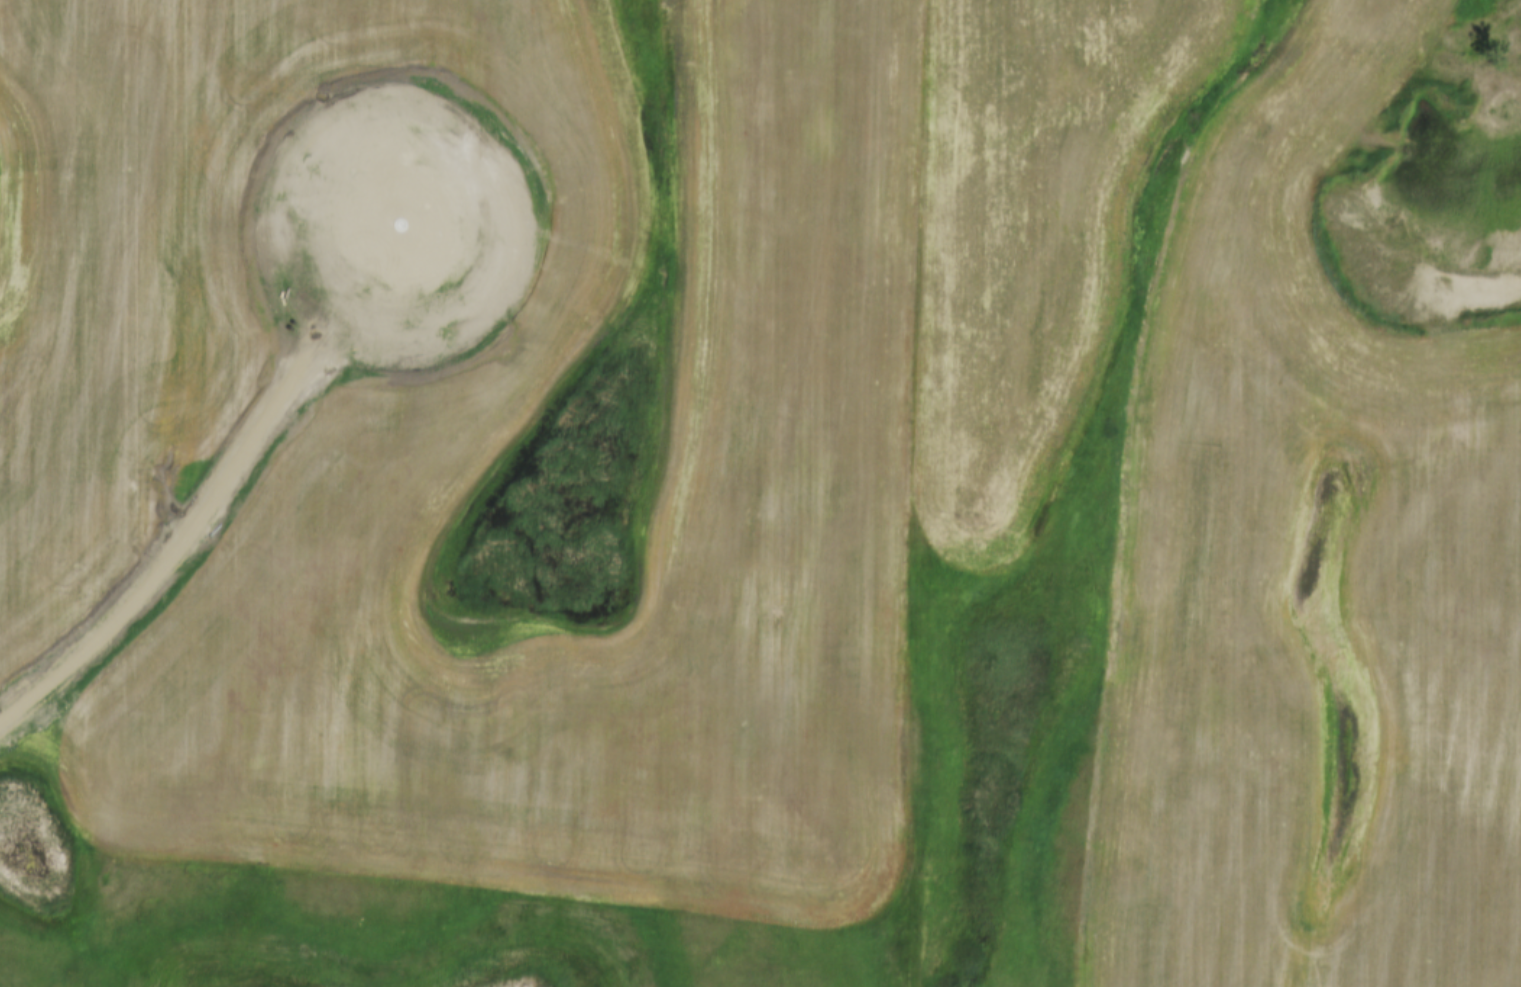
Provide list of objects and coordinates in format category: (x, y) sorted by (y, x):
wind turbine: (402, 228)
road: (922, 493)

